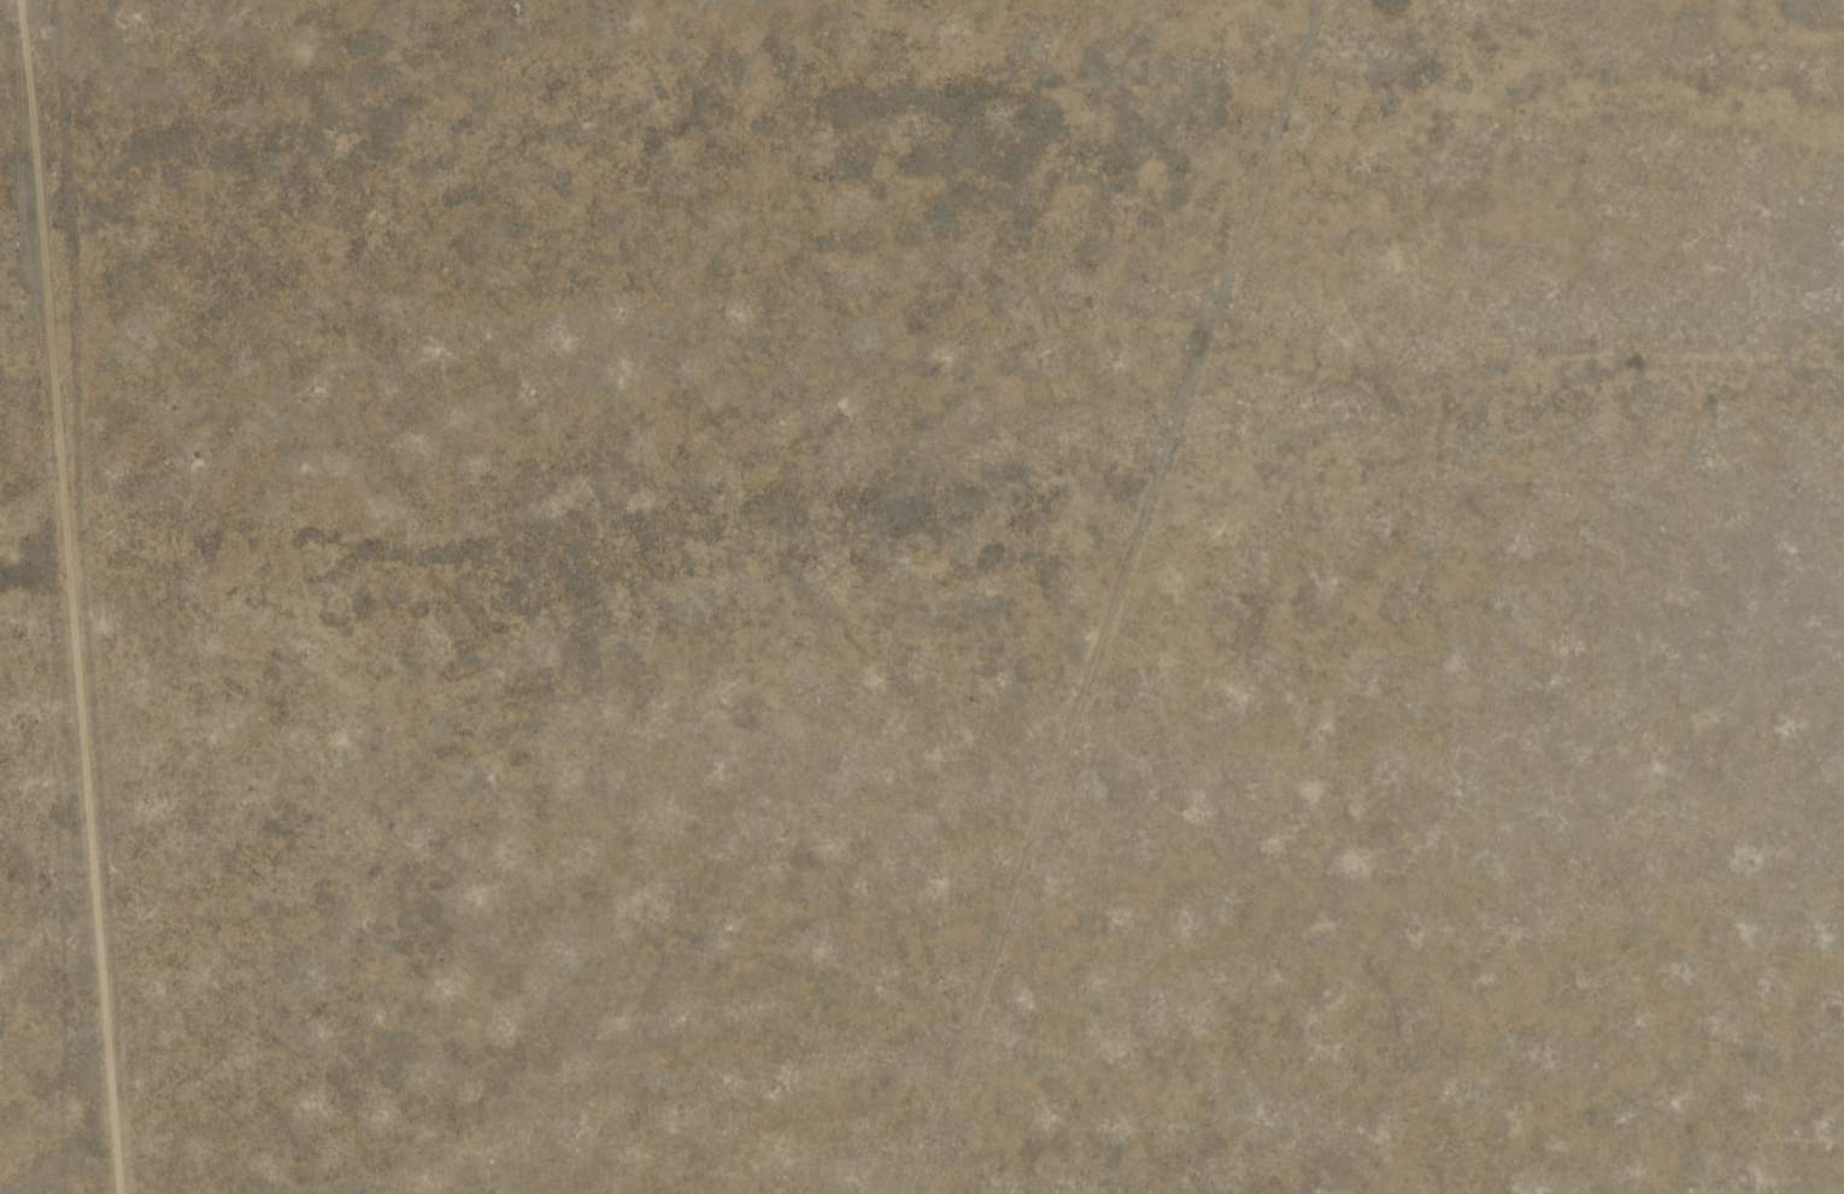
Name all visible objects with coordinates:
road: (1020, 596)
road: (45, 676)

